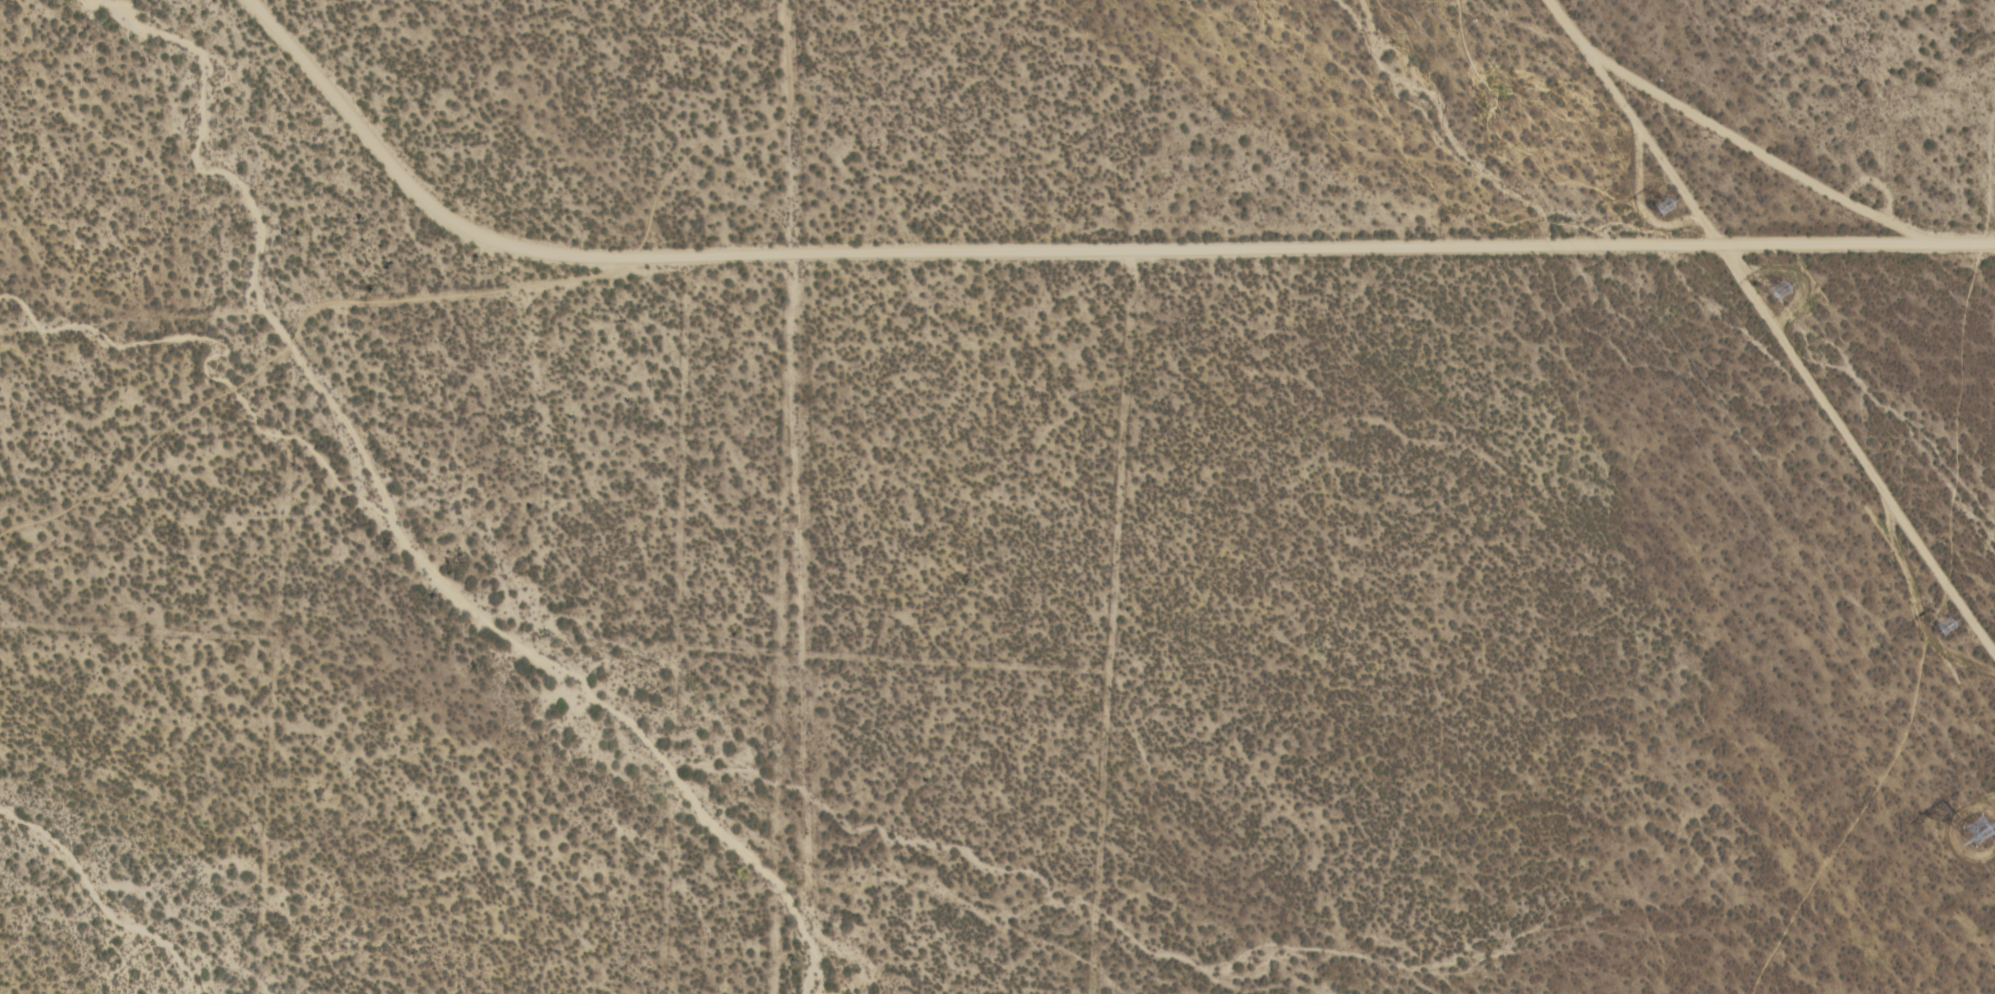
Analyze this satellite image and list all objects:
power tower: (1674, 211)
road: (1066, 261)
power tower: (1791, 292)
power tower: (1958, 627)
power tower: (1986, 826)

